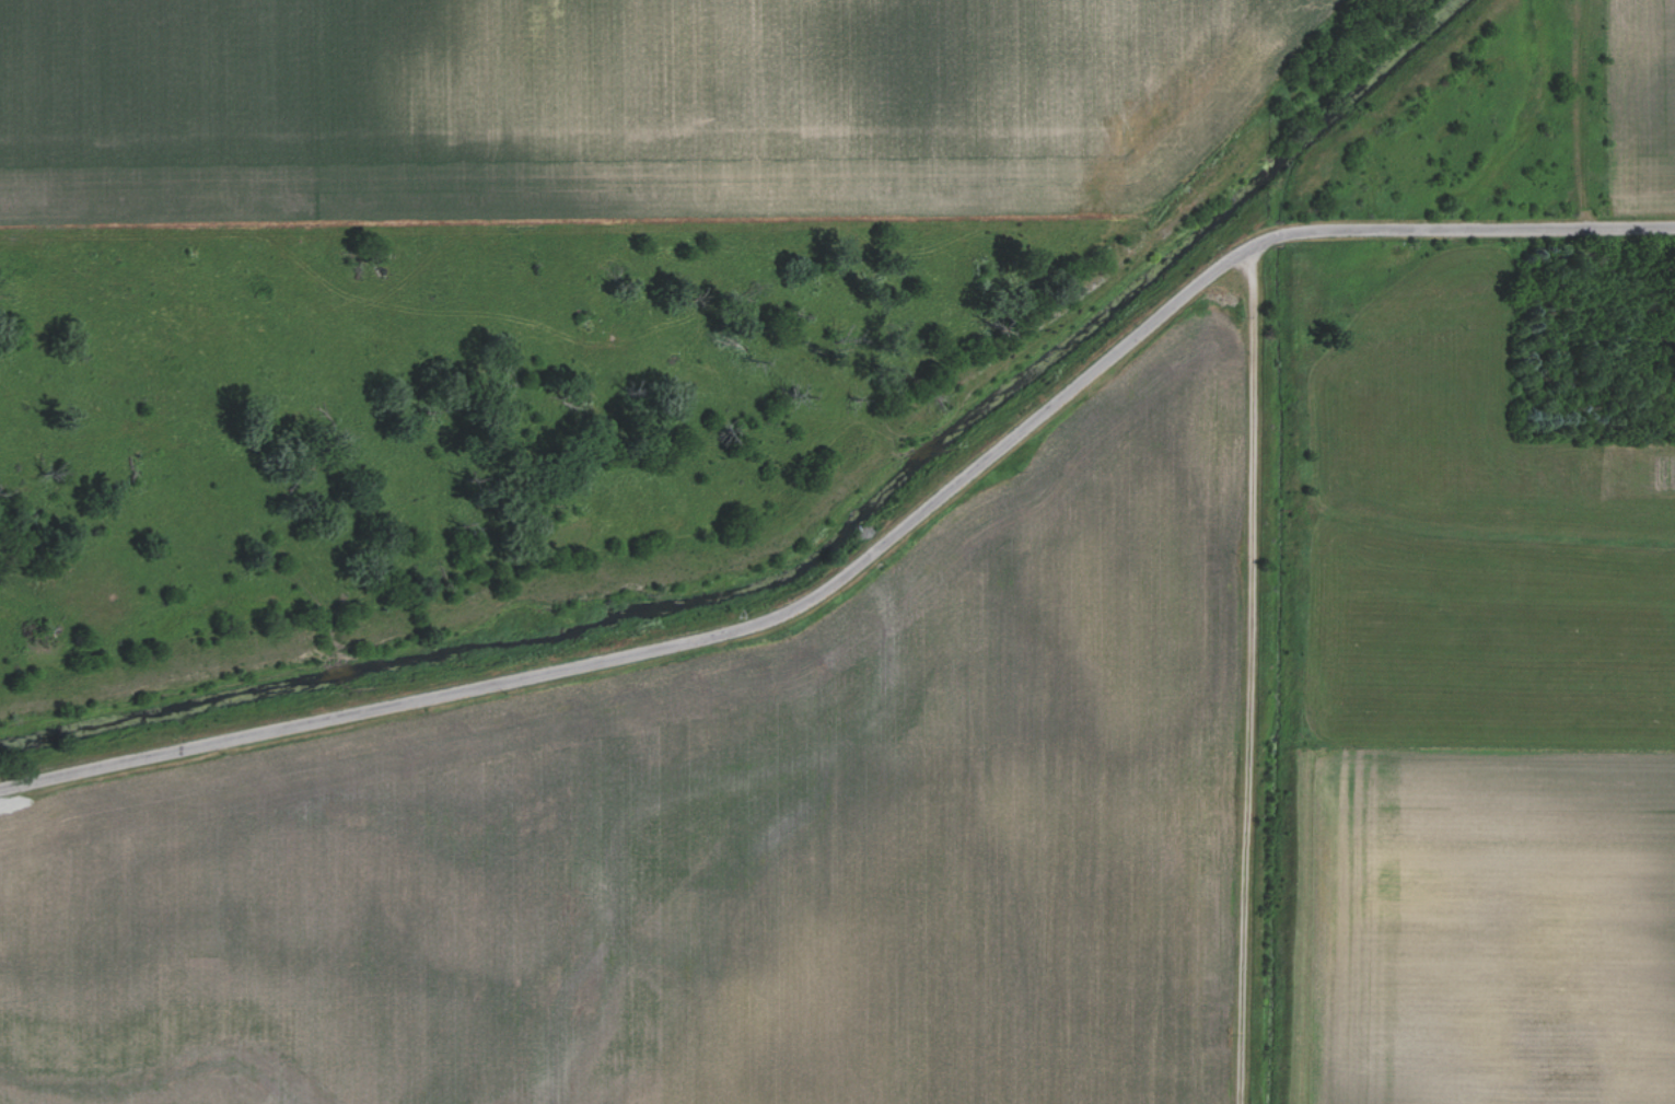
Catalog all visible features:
road: (1493, 222)
road: (716, 632)
road: (1245, 673)

